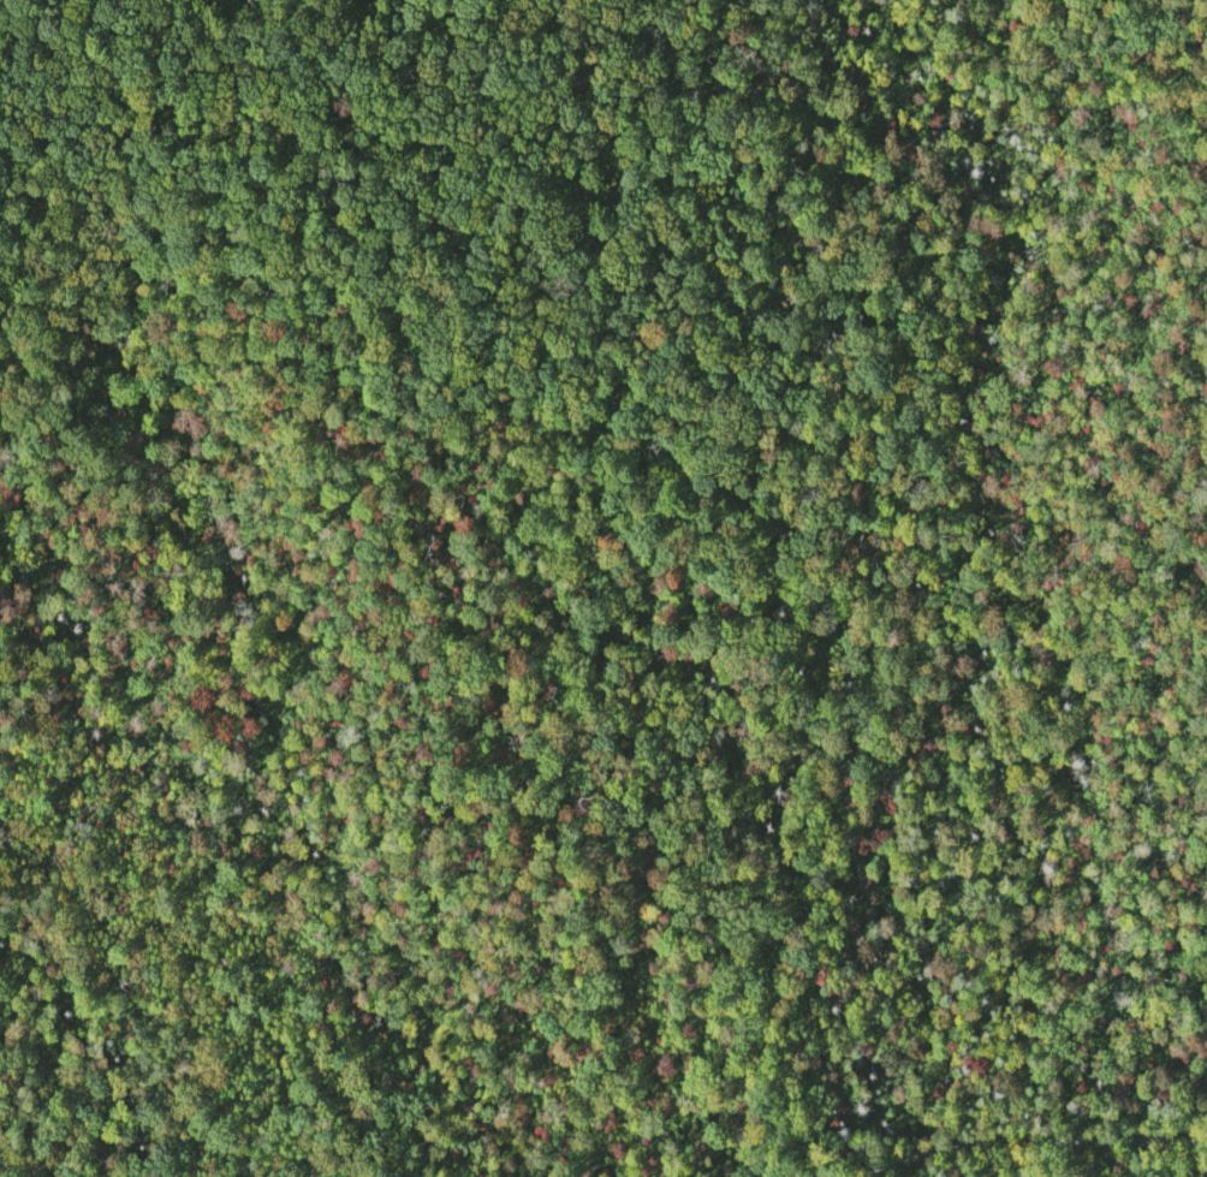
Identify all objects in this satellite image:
road: (1022, 1140)

